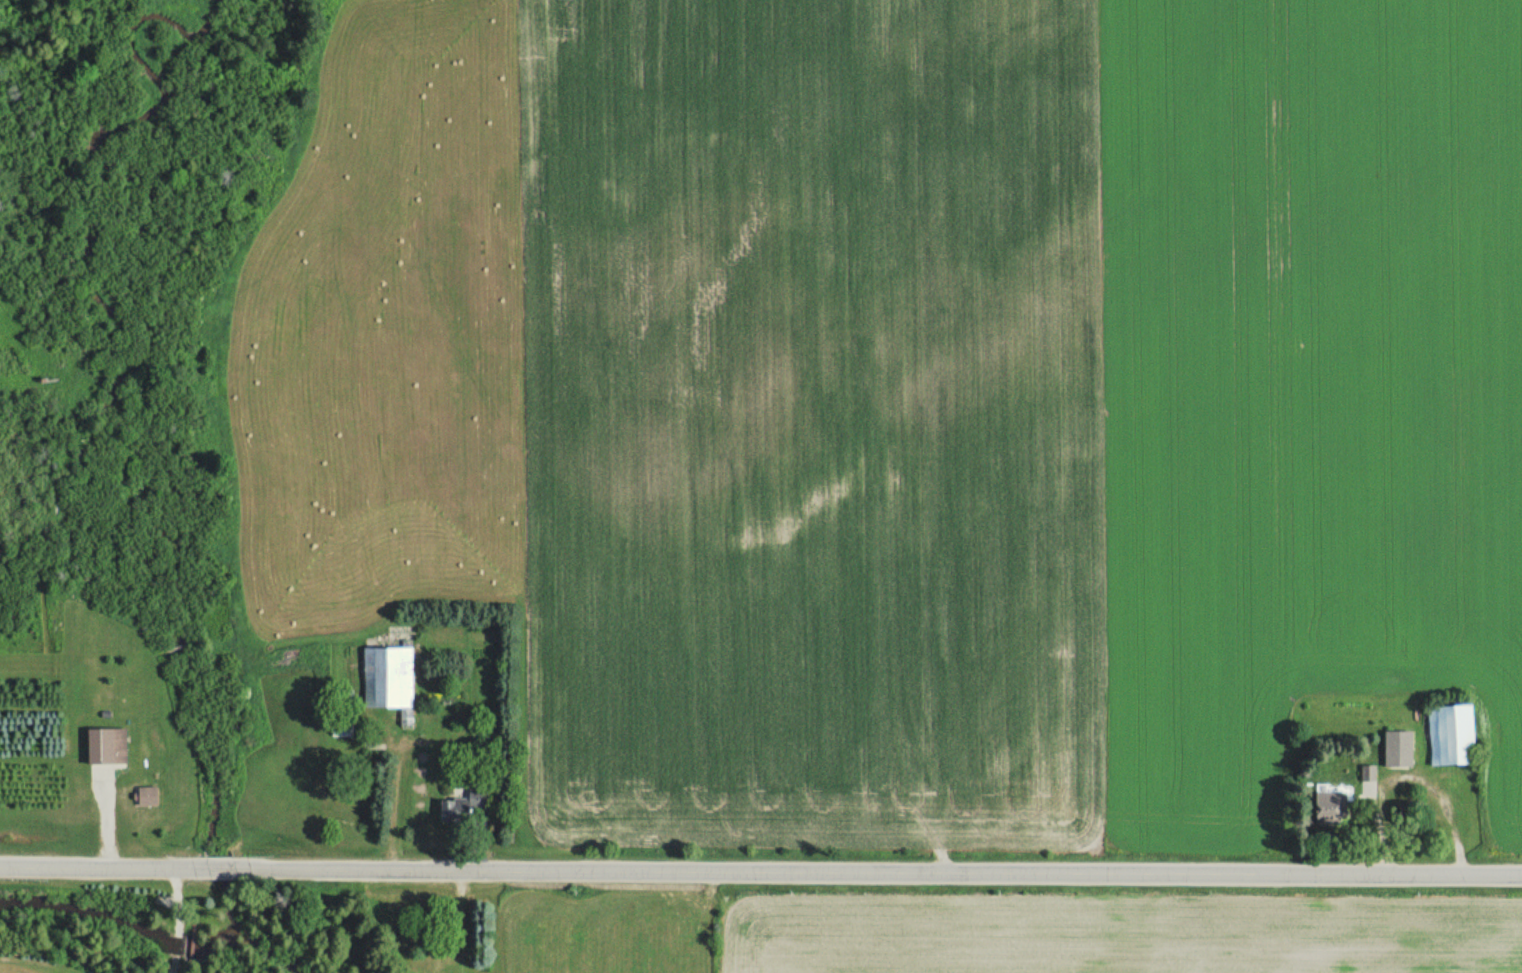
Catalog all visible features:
building: (386, 678)
building: (408, 718)
building: (343, 725)
building: (1449, 734)
building: (107, 744)
building: (1397, 748)
building: (1368, 772)
building: (145, 794)
building: (1328, 803)
building: (465, 805)
road: (96, 864)
road: (237, 865)
road: (901, 871)
river: (278, 951)

